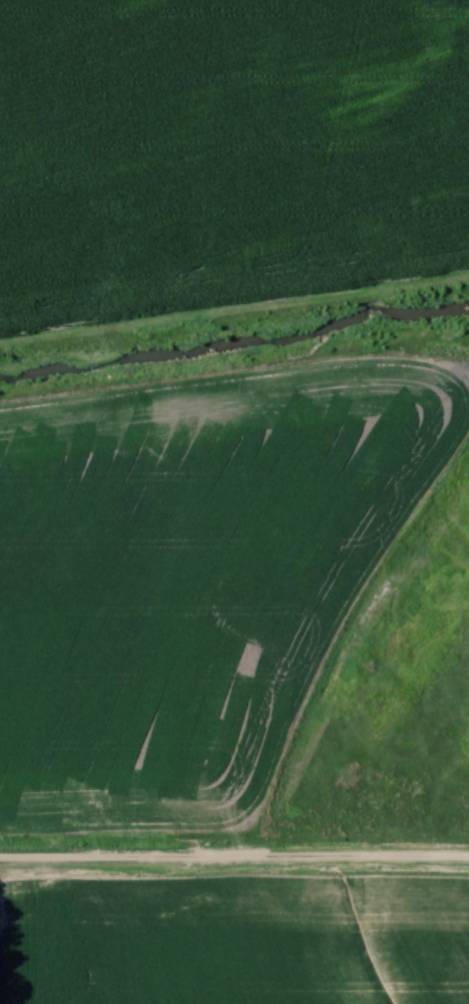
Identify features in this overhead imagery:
road: (234, 856)

